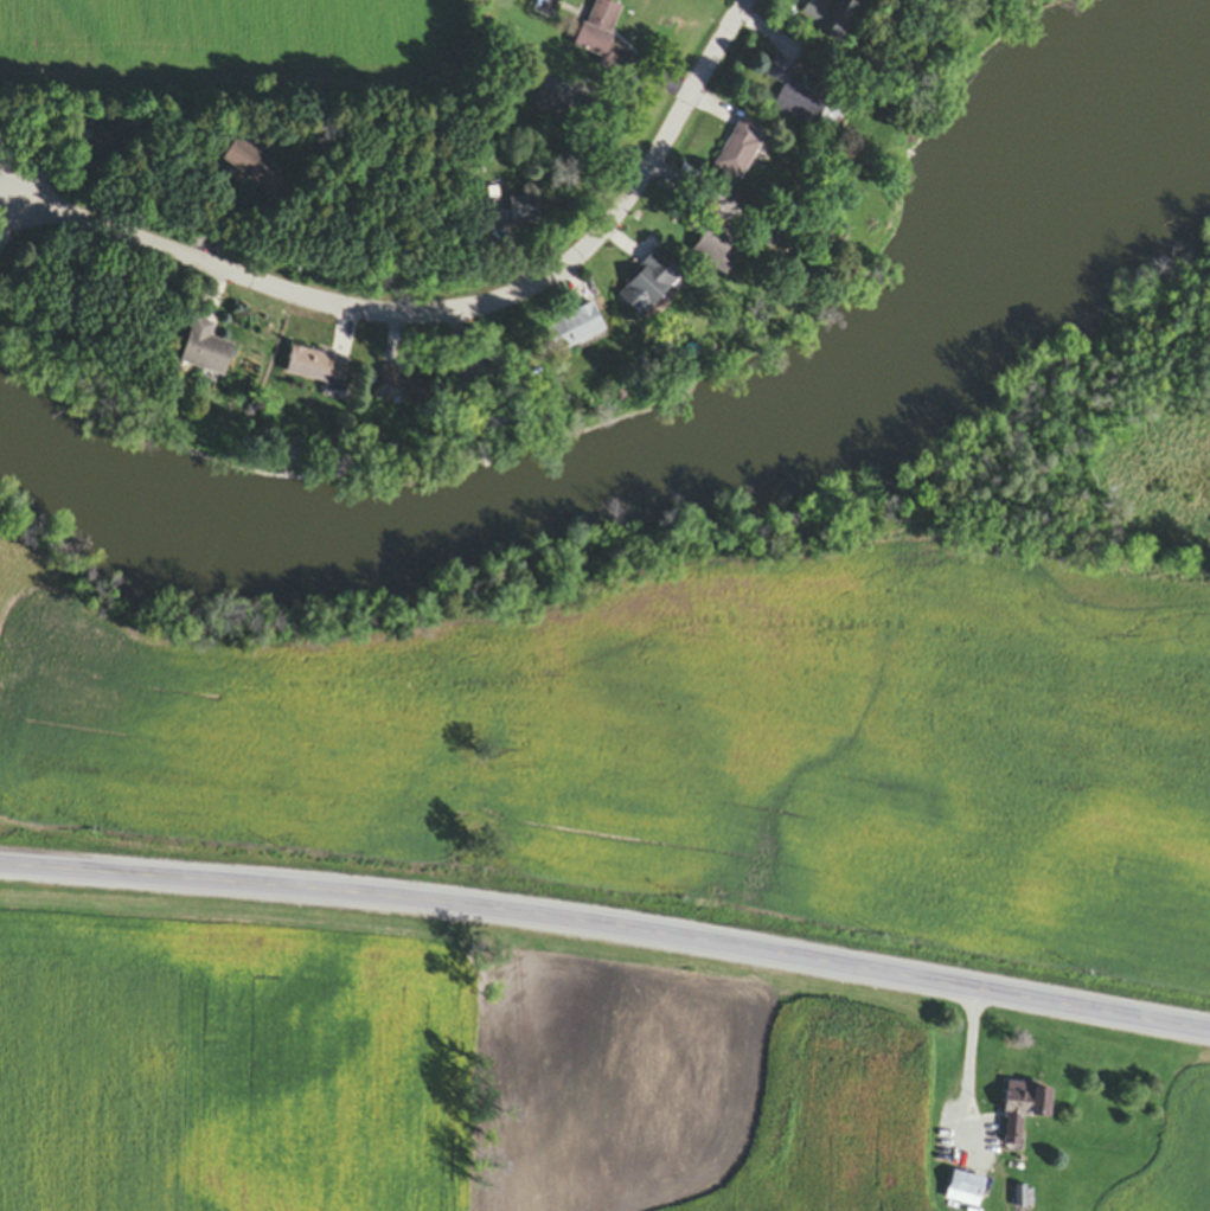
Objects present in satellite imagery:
building: (831, 15)
building: (598, 30)
building: (795, 97)
building: (544, 107)
building: (114, 137)
building: (740, 150)
building: (257, 174)
building: (516, 212)
building: (718, 249)
building: (648, 286)
road: (452, 318)
building: (576, 328)
building: (205, 351)
building: (319, 370)
building: (403, 387)
river: (659, 462)
road: (607, 927)
road: (963, 1068)
building: (1023, 1113)
building: (965, 1192)

